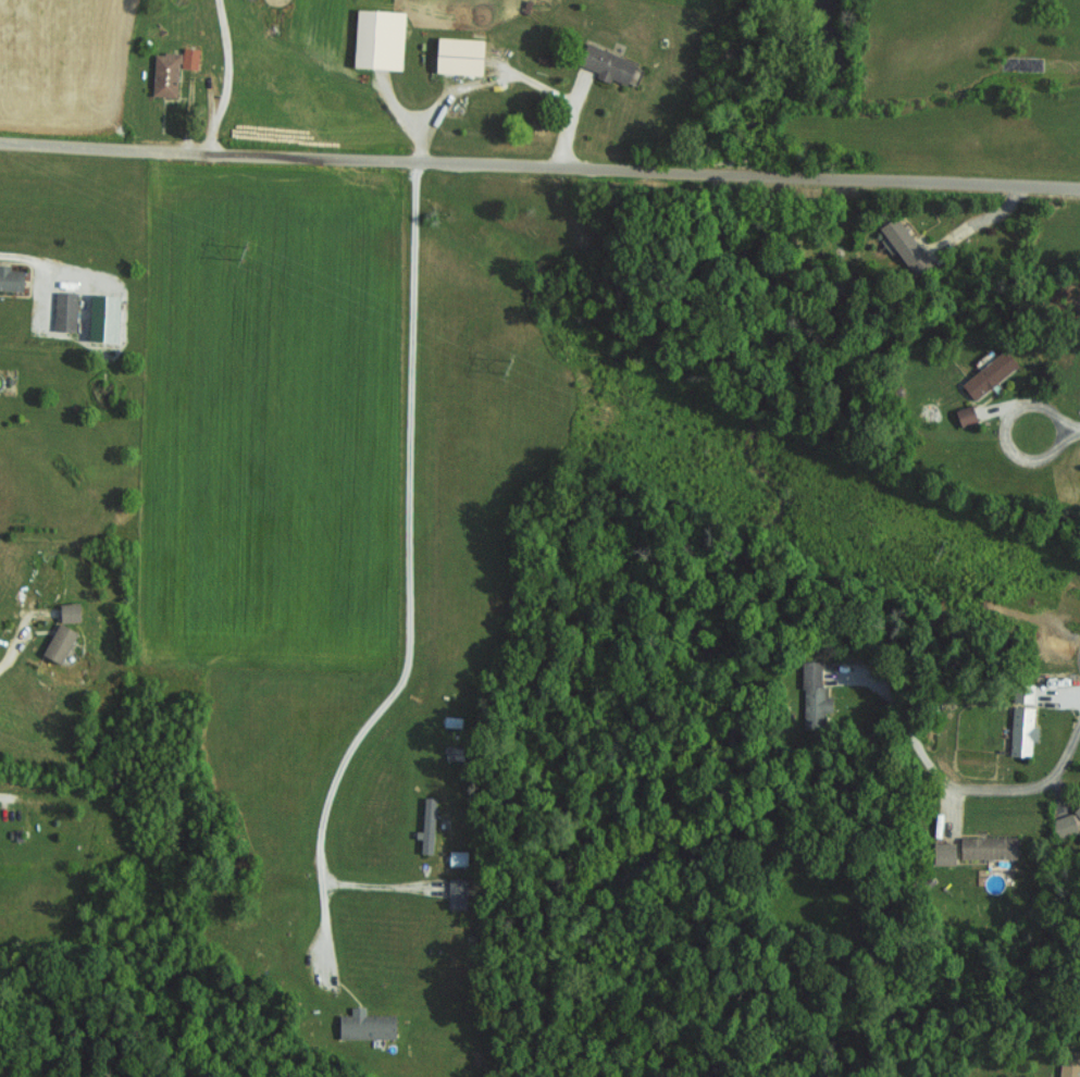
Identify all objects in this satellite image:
building: (375, 39)
building: (455, 55)
building: (188, 58)
building: (604, 63)
building: (163, 75)
road: (232, 78)
road: (539, 165)
building: (902, 244)
power tower: (245, 252)
road: (12, 259)
building: (13, 278)
building: (69, 311)
building: (105, 320)
power tower: (509, 364)
building: (986, 374)
road: (1029, 408)
building: (964, 416)
road: (1079, 426)
road: (413, 461)
power tower: (939, 549)
building: (77, 611)
building: (66, 643)
road: (18, 647)
building: (812, 692)
building: (1021, 693)
building: (1020, 730)
road: (953, 779)
road: (7, 796)
building: (1077, 810)
building: (426, 825)
building: (1063, 825)
building: (986, 847)
building: (942, 853)
building: (458, 857)
building: (458, 893)
building: (364, 1025)
building: (1068, 1068)

